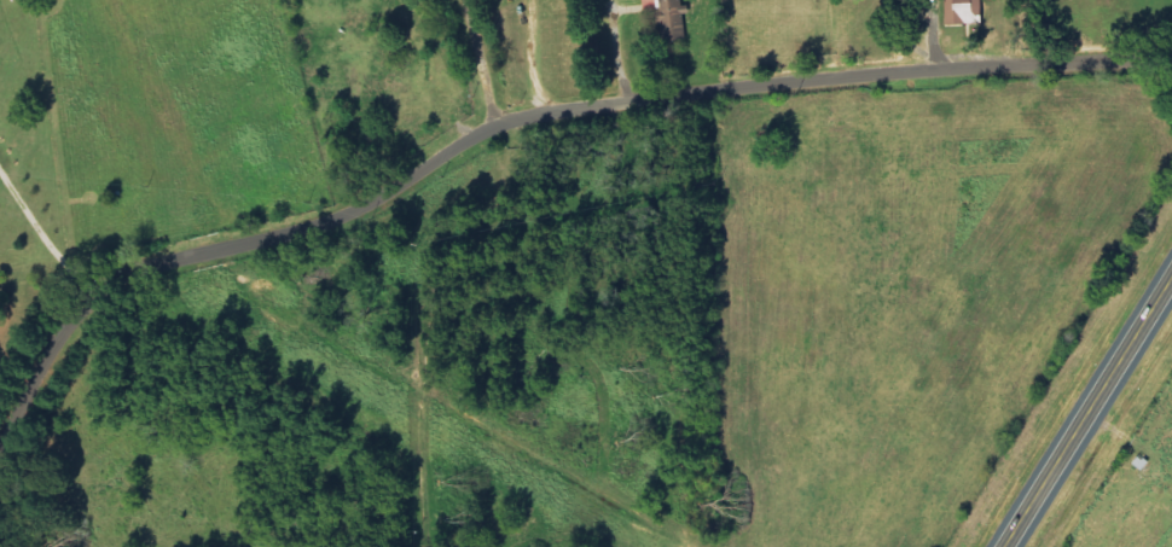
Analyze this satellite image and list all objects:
building: (967, 12)
building: (672, 18)
road: (489, 85)
road: (721, 89)
road: (516, 162)
road: (1090, 413)

